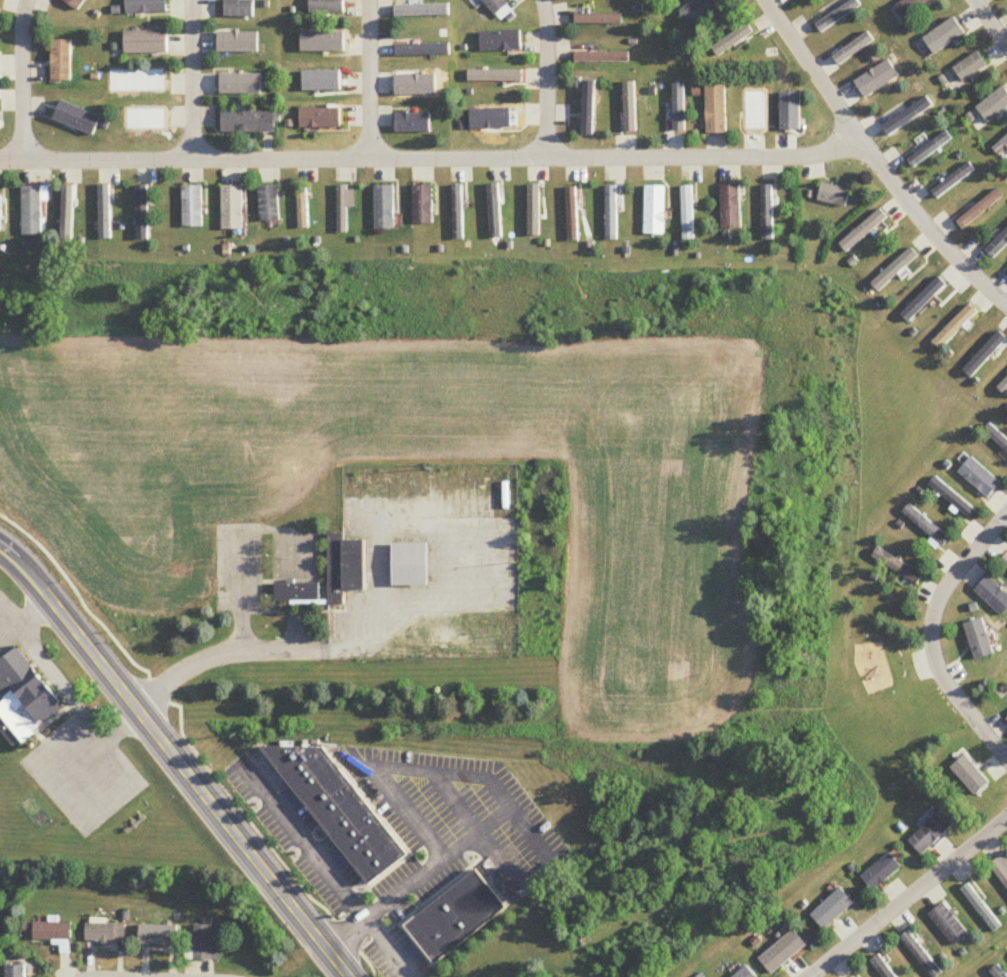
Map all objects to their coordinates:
building: (75, 3)
building: (495, 6)
building: (146, 7)
building: (327, 7)
building: (697, 8)
building: (239, 9)
building: (422, 11)
building: (838, 15)
building: (598, 21)
road: (991, 22)
building: (500, 42)
building: (601, 58)
building: (61, 61)
building: (969, 66)
building: (140, 75)
road: (547, 78)
road: (371, 79)
road: (22, 80)
road: (193, 80)
building: (993, 105)
building: (716, 110)
building: (677, 111)
building: (755, 113)
building: (321, 118)
building: (249, 122)
building: (413, 123)
building: (1001, 149)
building: (929, 150)
road: (430, 158)
road: (875, 162)
building: (952, 180)
building: (834, 196)
building: (269, 204)
building: (423, 205)
building: (192, 207)
building: (730, 207)
building: (232, 208)
building: (303, 208)
building: (344, 208)
building: (384, 208)
building: (979, 209)
building: (654, 211)
building: (32, 212)
building: (67, 212)
building: (495, 212)
building: (457, 213)
building: (611, 213)
building: (767, 213)
building: (687, 214)
building: (0, 215)
building: (572, 215)
building: (872, 229)
building: (997, 246)
building: (895, 270)
building: (955, 328)
building: (987, 353)
building: (1002, 388)
building: (996, 439)
building: (978, 478)
building: (951, 499)
building: (925, 526)
road: (452, 544)
building: (410, 565)
building: (345, 568)
building: (297, 592)
building: (993, 596)
road: (11, 619)
road: (933, 636)
road: (11, 639)
building: (979, 640)
road: (219, 647)
road: (60, 685)
building: (26, 688)
road: (174, 761)
road: (393, 766)
building: (341, 804)
road: (79, 806)
road: (477, 825)
road: (528, 829)
building: (933, 833)
building: (1004, 861)
road: (324, 865)
building: (881, 873)
road: (415, 877)
road: (908, 897)
building: (982, 910)
building: (457, 913)
building: (950, 926)
building: (53, 933)
building: (158, 933)
building: (105, 934)
building: (206, 944)
building: (921, 956)
building: (881, 967)
building: (16, 971)
building: (744, 973)
building: (997, 973)

